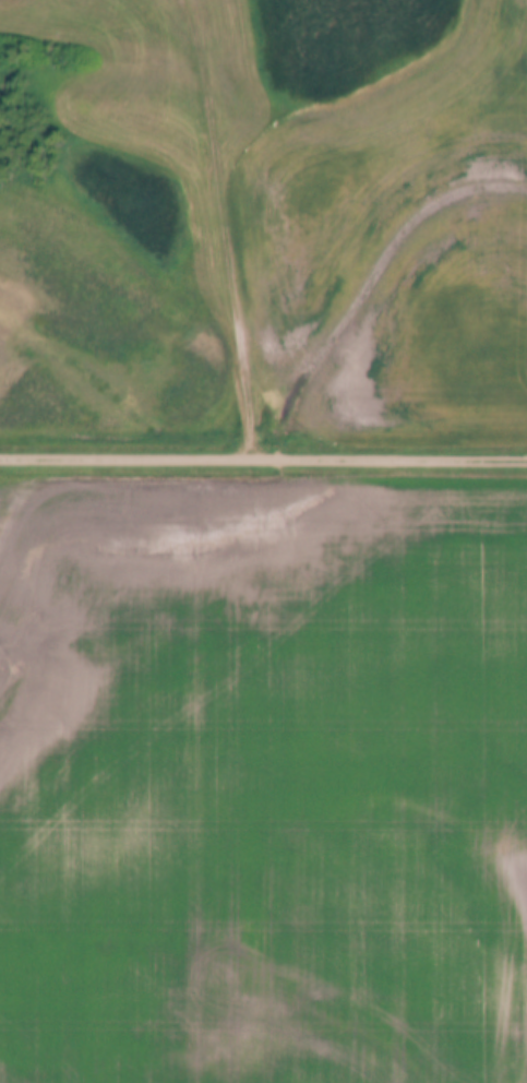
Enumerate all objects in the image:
road: (225, 228)
road: (263, 462)

